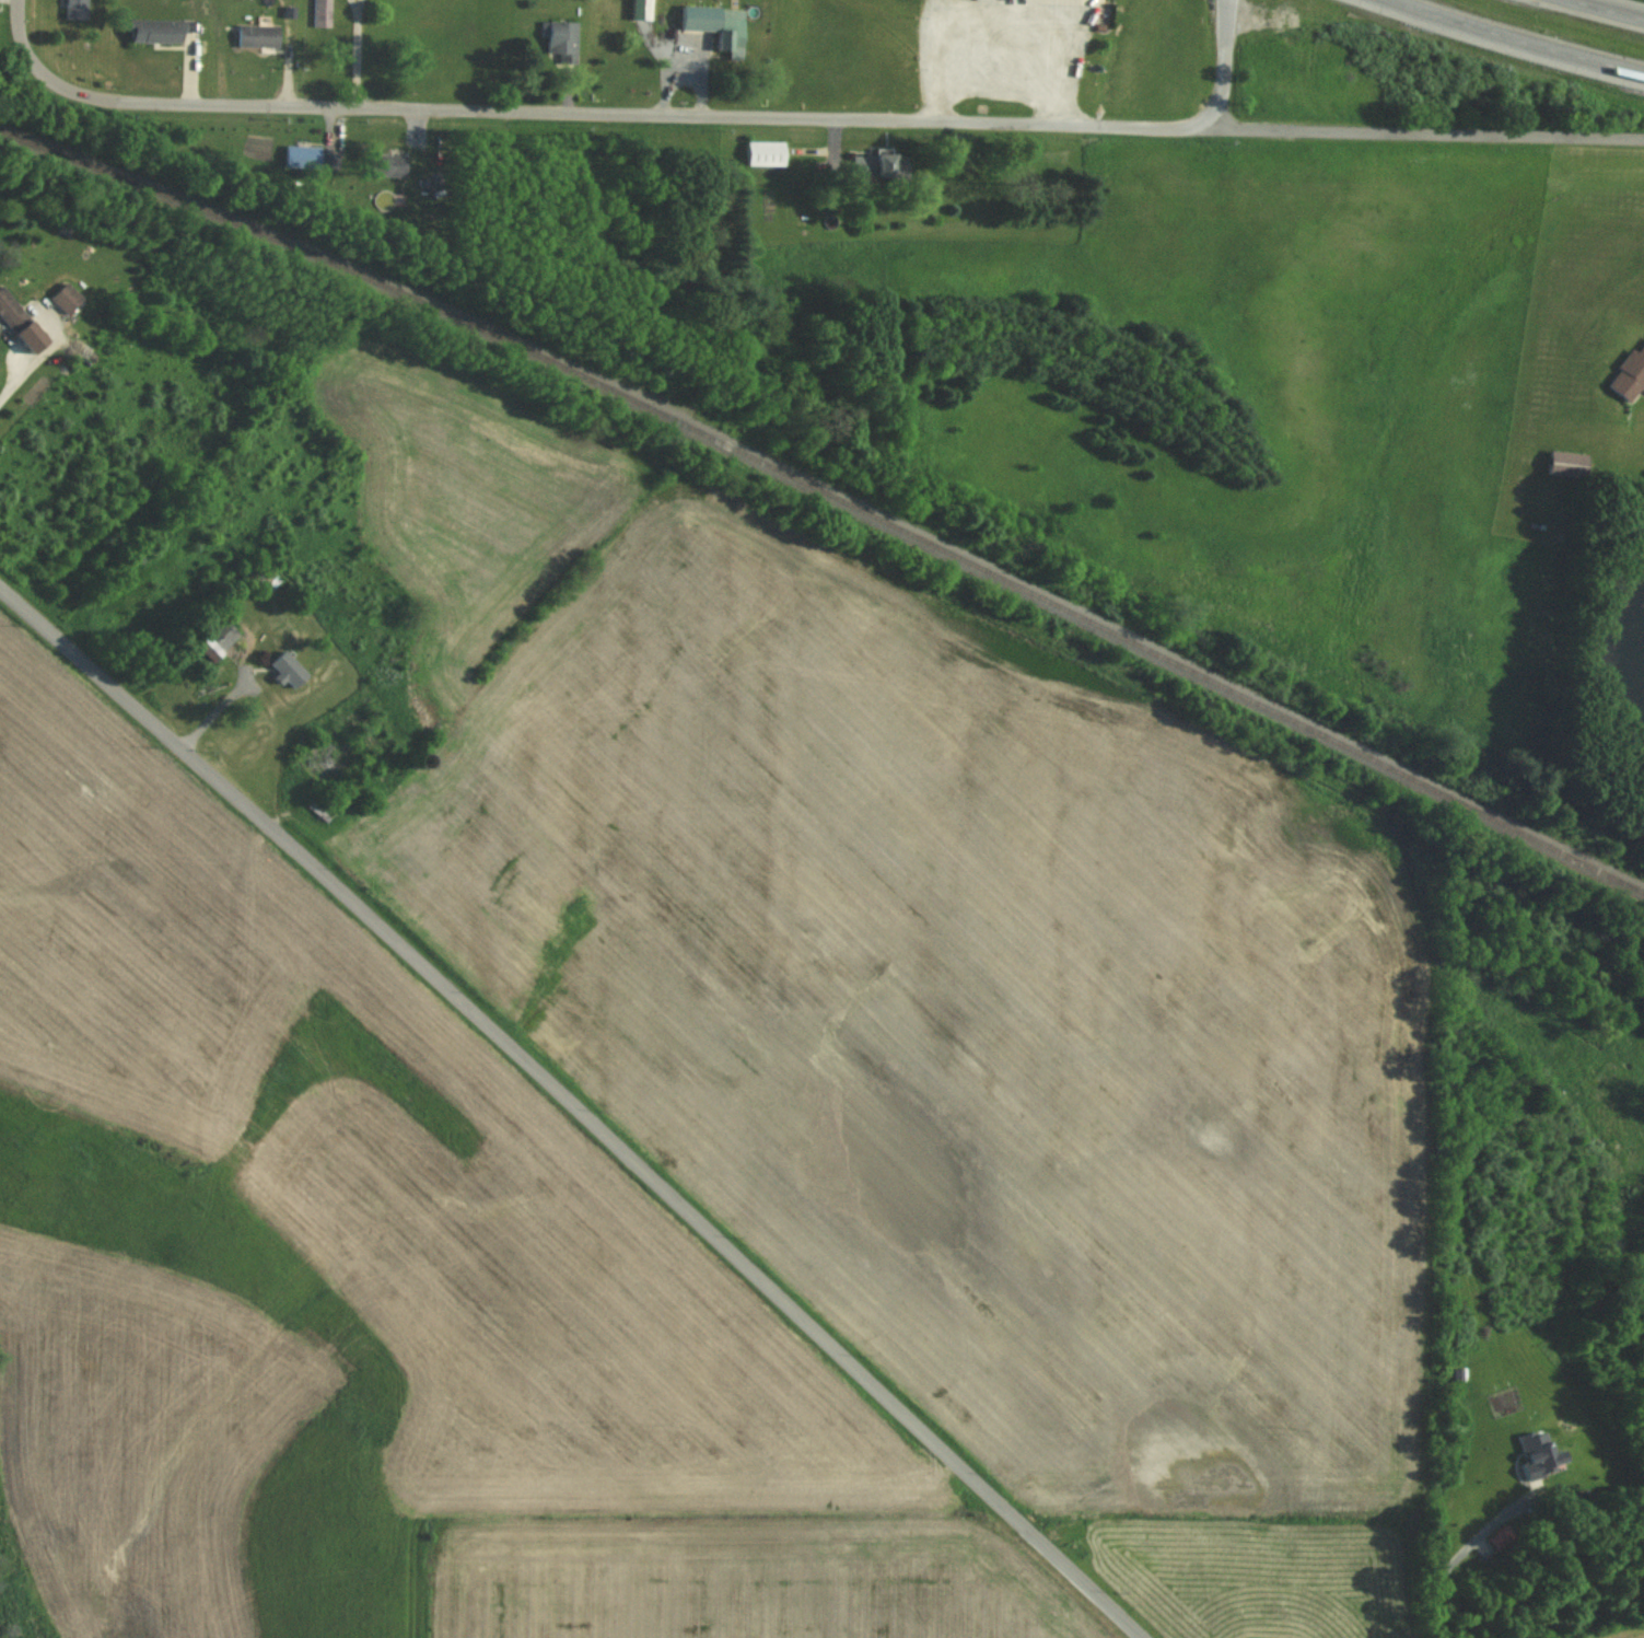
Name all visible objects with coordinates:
building: (75, 10)
road: (1608, 10)
building: (323, 14)
building: (715, 25)
building: (154, 32)
building: (257, 36)
road: (1517, 38)
building: (561, 43)
road: (358, 54)
road: (936, 61)
road: (1223, 65)
road: (587, 114)
road: (1431, 133)
building: (763, 154)
building: (302, 158)
building: (384, 166)
building: (877, 166)
building: (65, 299)
building: (11, 314)
road: (39, 355)
building: (1629, 377)
building: (1566, 466)
railway: (828, 492)
building: (214, 640)
building: (285, 672)
building: (316, 766)
road: (573, 1110)
road: (1455, 1558)

